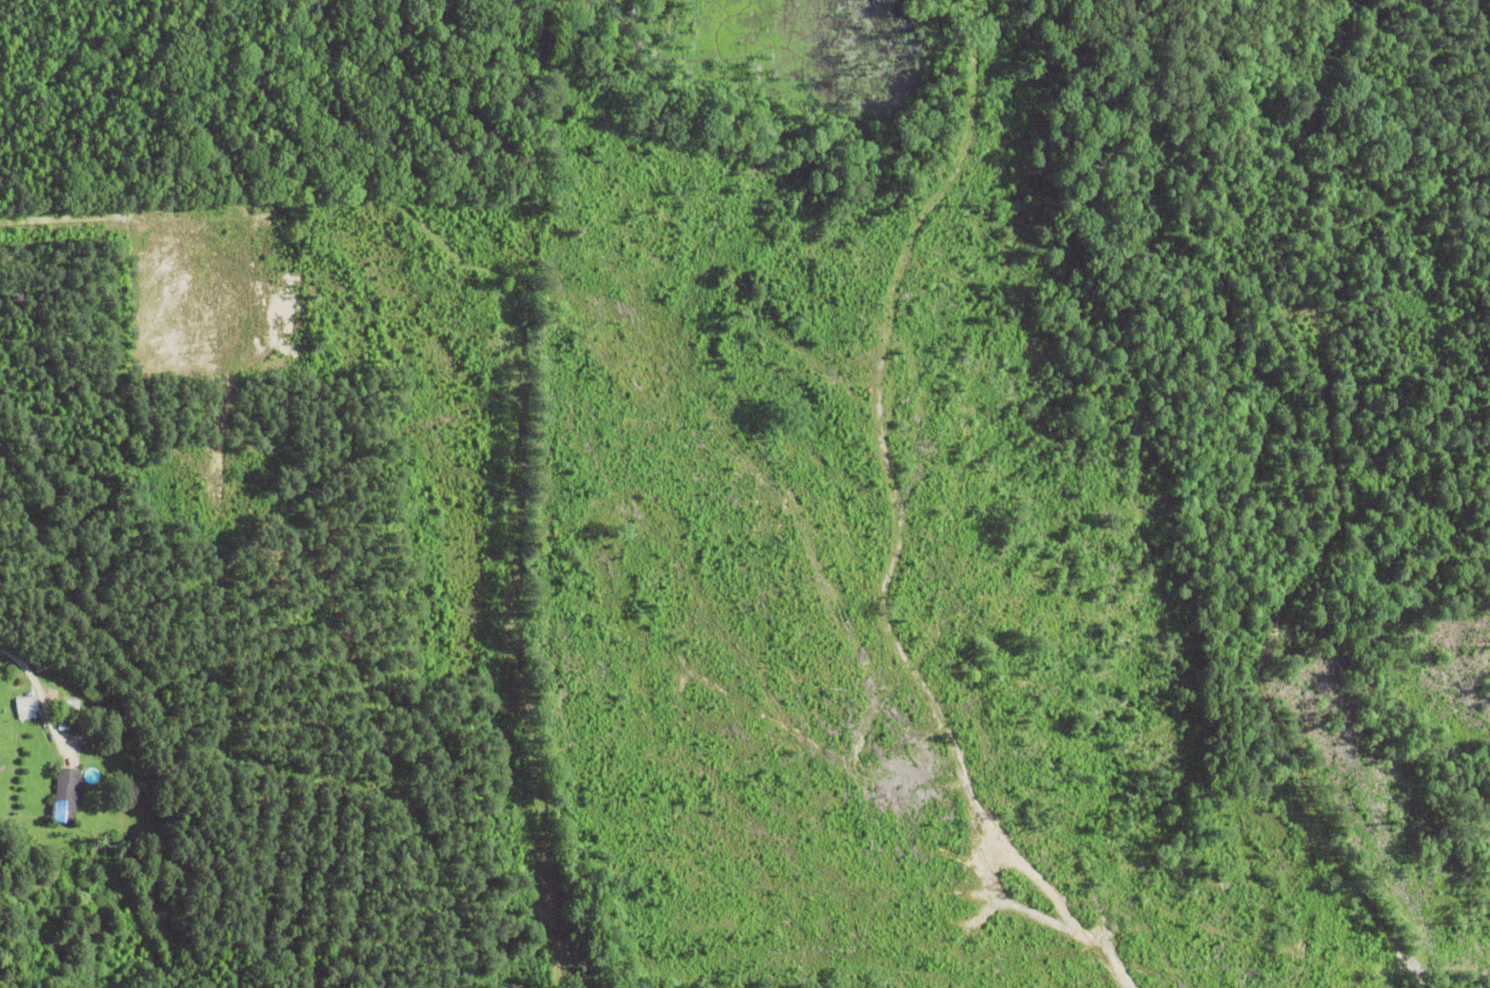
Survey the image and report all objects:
building: (72, 705)
building: (28, 707)
building: (66, 721)
building: (69, 793)

